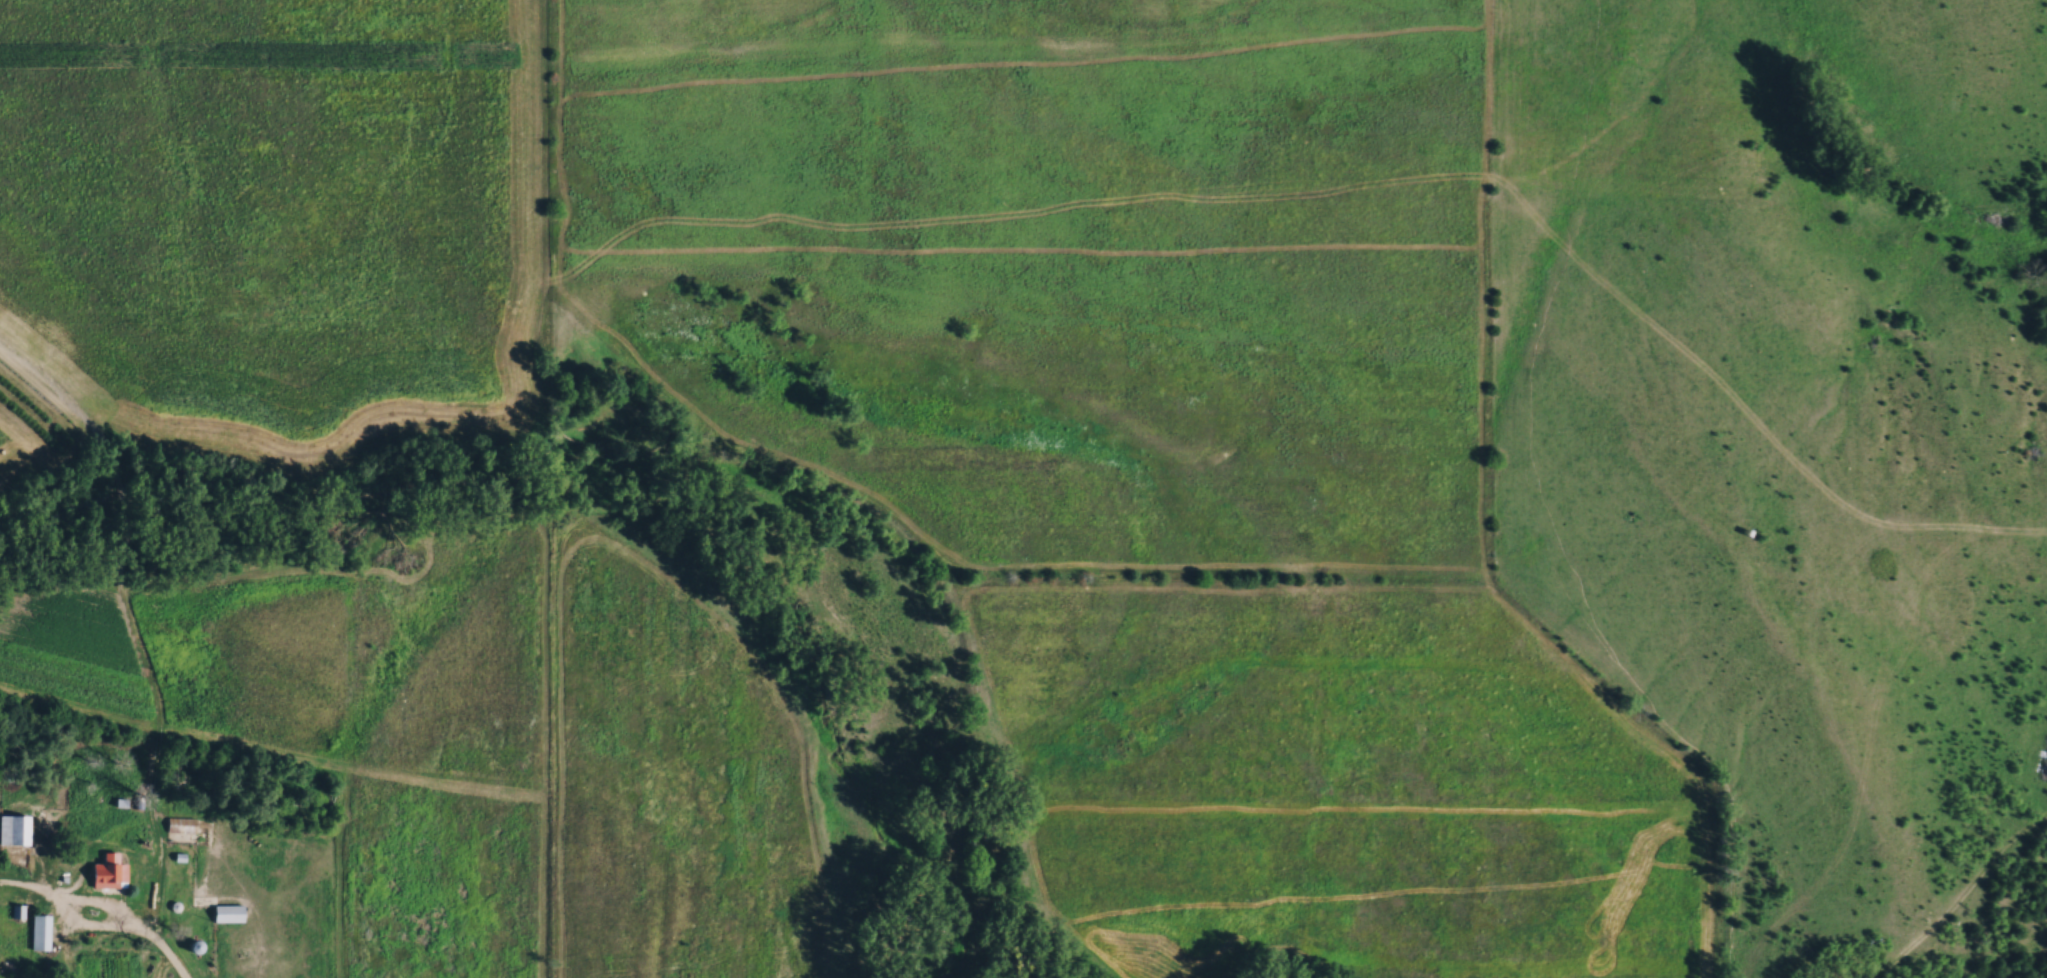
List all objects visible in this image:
building: (182, 825)
building: (15, 829)
building: (110, 872)
building: (229, 913)
road: (82, 927)
building: (40, 932)
road: (161, 947)

